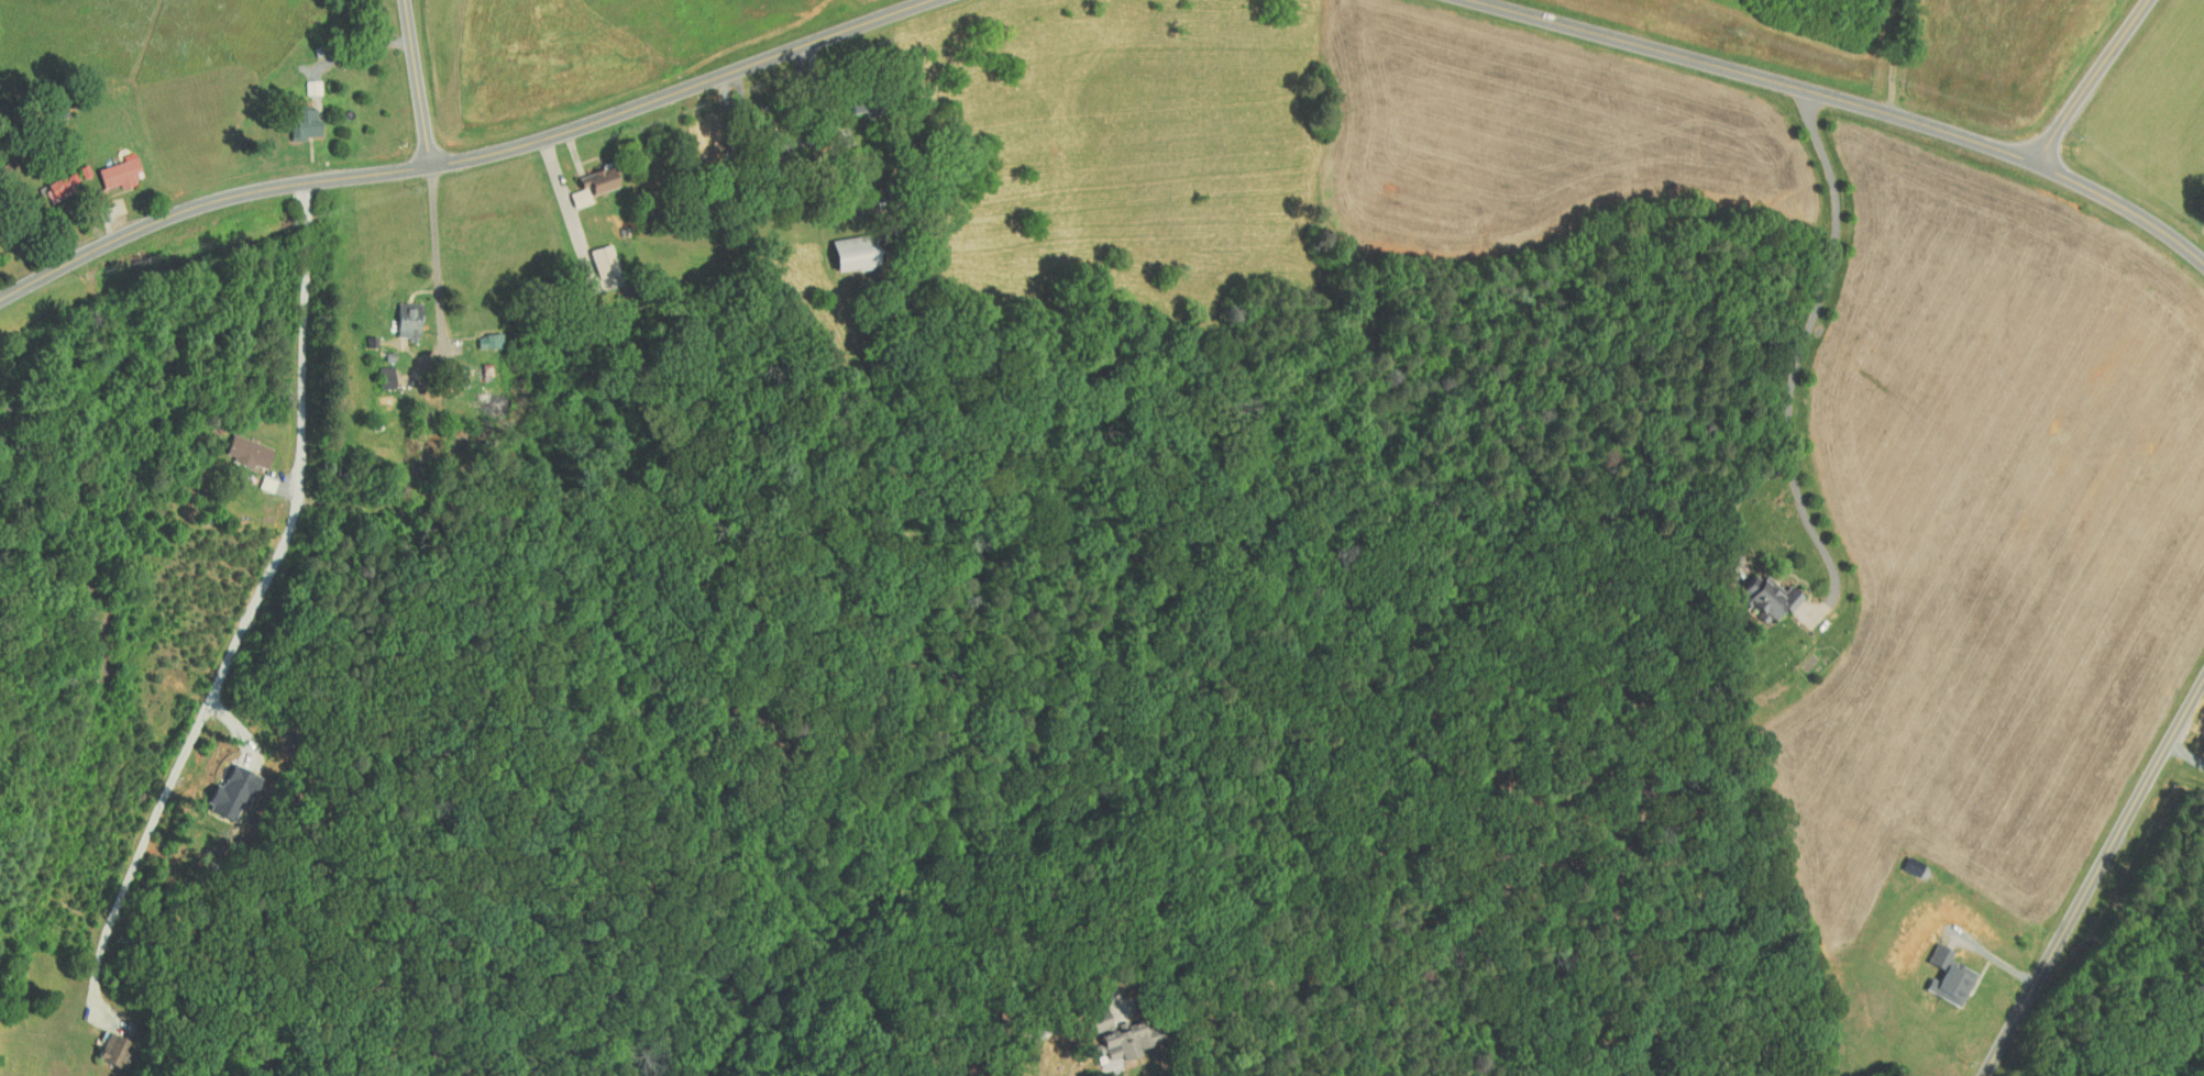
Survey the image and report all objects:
road: (1612, 16)
road: (360, 49)
road: (418, 80)
road: (2098, 80)
building: (301, 81)
road: (1853, 99)
road: (830, 121)
building: (694, 133)
road: (464, 153)
building: (108, 167)
building: (581, 179)
building: (51, 180)
road: (563, 196)
building: (839, 246)
road: (437, 254)
building: (592, 255)
building: (396, 314)
road: (1807, 332)
building: (477, 334)
building: (374, 370)
building: (482, 397)
building: (235, 445)
road: (1820, 544)
building: (1759, 591)
road: (256, 604)
road: (2185, 754)
building: (220, 786)
road: (2092, 877)
building: (1938, 970)
road: (1194, 1014)
building: (1111, 1029)
building: (100, 1043)

